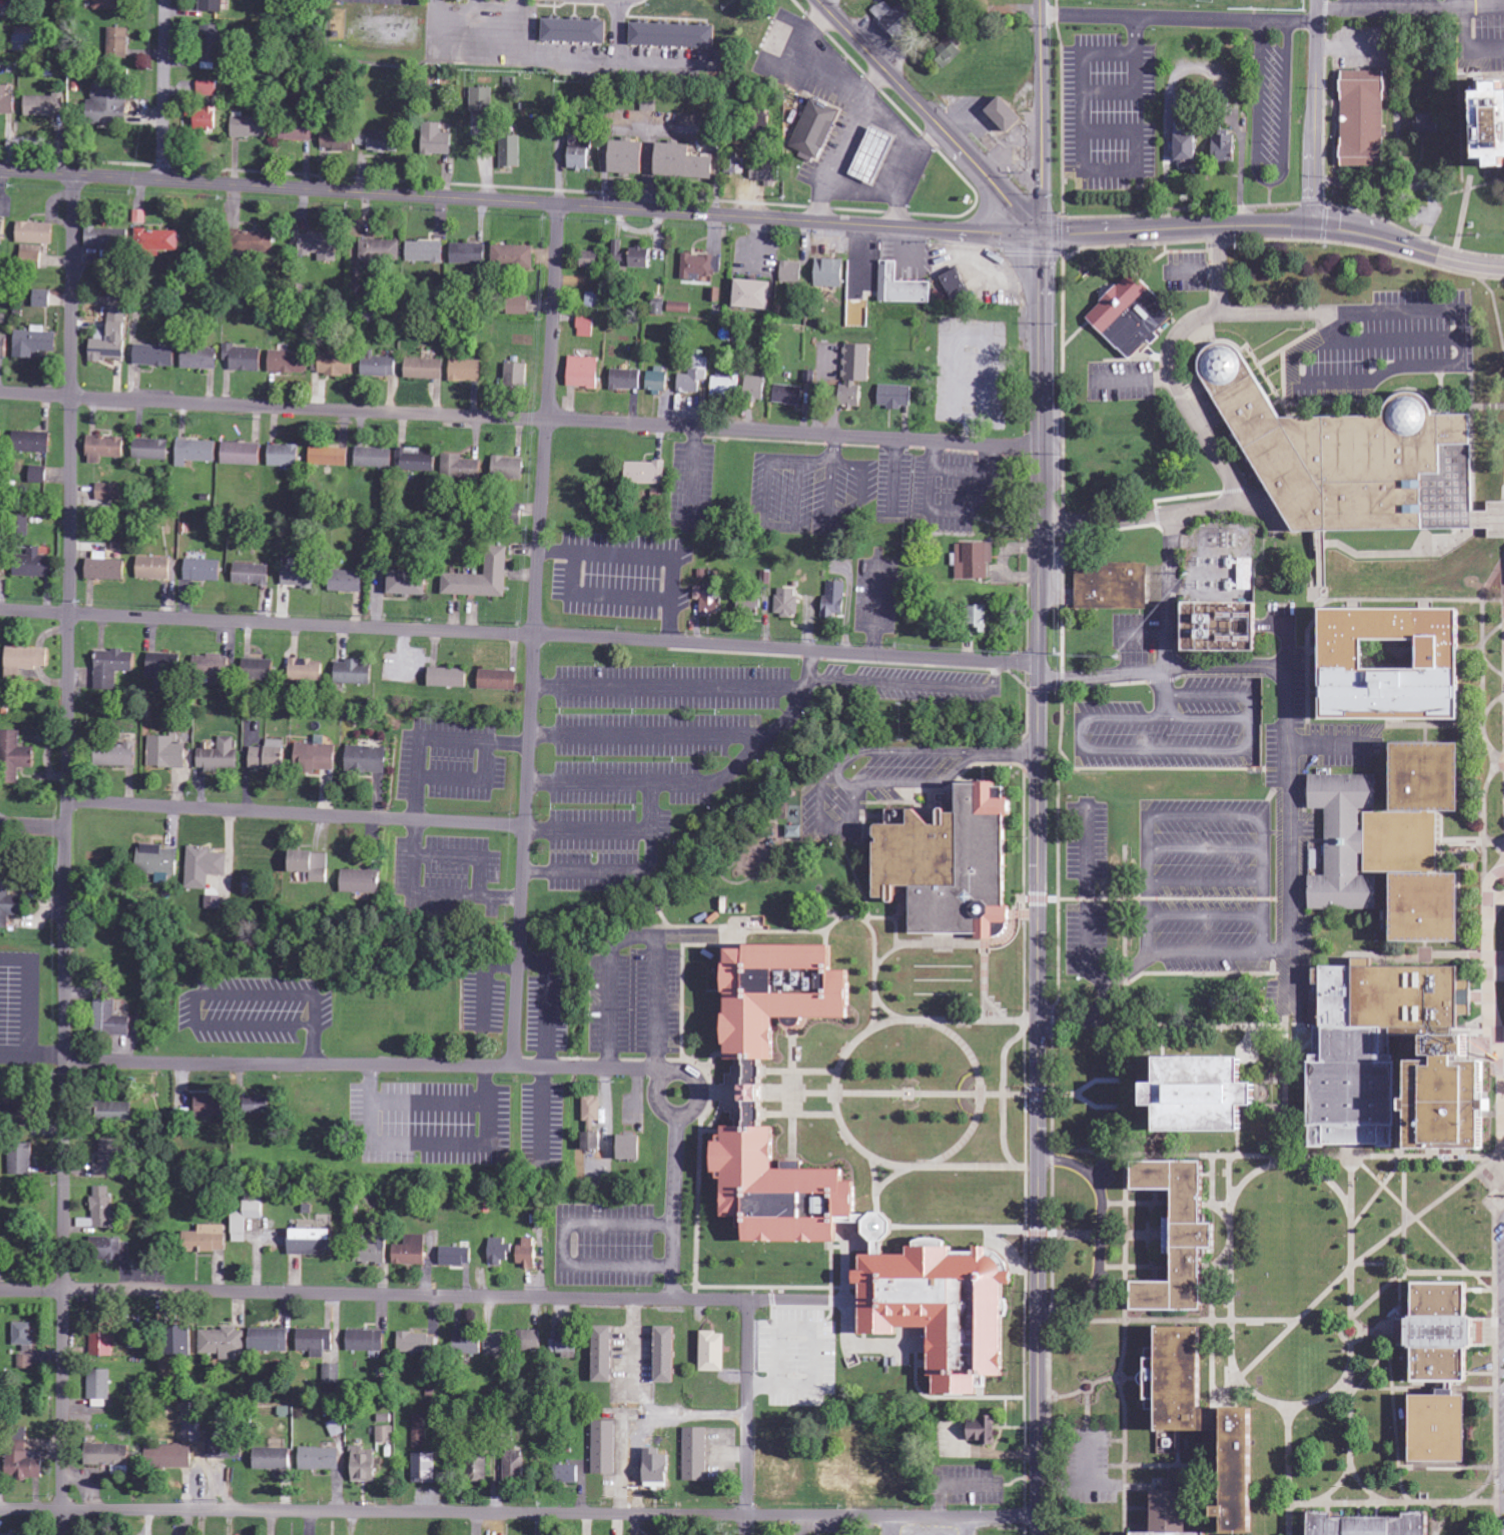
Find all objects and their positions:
park: (1279, 1)
building: (111, 5)
building: (212, 6)
road: (1409, 10)
building: (895, 18)
road: (1177, 18)
building: (576, 32)
building: (675, 36)
building: (23, 38)
building: (121, 43)
building: (212, 45)
road: (1457, 49)
building: (950, 50)
building: (207, 89)
road: (163, 91)
building: (482, 101)
building: (6, 102)
building: (45, 106)
building: (109, 106)
building: (1182, 110)
building: (1007, 113)
road: (1312, 114)
road: (928, 116)
road: (1039, 116)
building: (207, 119)
building: (1365, 119)
building: (1430, 123)
building: (1490, 124)
building: (250, 127)
building: (816, 129)
building: (297, 132)
building: (344, 141)
building: (384, 141)
building: (435, 141)
building: (1225, 146)
building: (1189, 150)
building: (511, 152)
building: (580, 152)
building: (874, 155)
building: (629, 157)
building: (684, 162)
building: (738, 165)
building: (766, 173)
road: (519, 202)
road: (1273, 227)
building: (34, 231)
building: (2, 232)
traffic signals: (1038, 233)
building: (108, 239)
building: (158, 240)
building: (257, 242)
building: (320, 246)
building: (380, 251)
building: (425, 252)
building: (32, 254)
building: (469, 254)
building: (632, 256)
building: (514, 257)
building: (590, 259)
building: (700, 267)
building: (791, 272)
building: (830, 273)
building: (957, 285)
building: (902, 287)
building: (755, 294)
building: (43, 298)
building: (593, 300)
building: (518, 304)
building: (680, 308)
building: (1134, 315)
building: (585, 326)
building: (112, 337)
building: (4, 347)
building: (24, 347)
building: (156, 355)
building: (201, 358)
building: (244, 358)
building: (289, 362)
building: (337, 364)
building: (379, 366)
building: (425, 369)
building: (466, 371)
building: (584, 372)
building: (856, 374)
building: (516, 375)
building: (694, 376)
building: (626, 379)
building: (658, 380)
building: (725, 384)
building: (754, 388)
building: (789, 395)
building: (895, 396)
road: (520, 417)
building: (1, 442)
building: (33, 442)
building: (110, 446)
building: (153, 449)
building: (196, 452)
building: (235, 452)
building: (285, 455)
building: (330, 457)
building: (374, 457)
building: (1355, 457)
building: (416, 460)
building: (460, 468)
building: (509, 468)
building: (647, 473)
building: (39, 475)
building: (109, 492)
building: (1, 557)
building: (973, 560)
power substation: (1225, 561)
building: (35, 564)
building: (157, 568)
building: (107, 569)
building: (204, 570)
building: (253, 574)
building: (299, 574)
building: (1243, 575)
building: (482, 578)
building: (346, 581)
building: (409, 583)
building: (1114, 586)
building: (698, 593)
building: (838, 599)
building: (787, 602)
building: (712, 603)
building: (751, 607)
building: (981, 619)
building: (1224, 628)
road: (518, 633)
road: (534, 635)
building: (25, 661)
building: (1400, 664)
building: (213, 666)
building: (113, 667)
building: (165, 669)
building: (259, 670)
building: (307, 670)
building: (351, 671)
building: (449, 678)
building: (499, 680)
building: (167, 752)
building: (116, 755)
building: (220, 756)
building: (270, 756)
building: (15, 757)
building: (316, 757)
building: (367, 760)
road: (296, 812)
road: (33, 827)
building: (794, 832)
building: (1399, 841)
road: (67, 855)
building: (159, 862)
building: (953, 864)
building: (312, 865)
building: (204, 867)
building: (361, 882)
road: (1035, 883)
road: (1031, 896)
road: (1155, 896)
road: (1021, 897)
building: (7, 905)
road: (1488, 1010)
building: (111, 1020)
road: (962, 1020)
road: (1018, 1031)
road: (1021, 1031)
road: (1373, 1040)
park: (1388, 1044)
road: (371, 1065)
road: (799, 1069)
road: (1097, 1080)
road: (787, 1090)
road: (800, 1092)
road: (906, 1092)
road: (1000, 1092)
road: (656, 1093)
building: (1222, 1097)
road: (999, 1101)
road: (1031, 1105)
building: (209, 1106)
building: (258, 1106)
building: (15, 1109)
building: (116, 1111)
building: (592, 1112)
road: (800, 1112)
building: (1420, 1135)
road: (1053, 1136)
building: (592, 1142)
building: (633, 1150)
road: (865, 1153)
road: (1300, 1153)
building: (111, 1159)
building: (21, 1160)
road: (975, 1161)
road: (1295, 1164)
building: (847, 1182)
road: (1120, 1186)
road: (1377, 1188)
road: (675, 1206)
road: (1425, 1208)
building: (101, 1210)
road: (1405, 1213)
building: (245, 1218)
road: (1423, 1223)
road: (1230, 1235)
building: (1188, 1238)
building: (206, 1240)
building: (312, 1242)
road: (561, 1242)
building: (107, 1249)
building: (410, 1252)
building: (499, 1252)
building: (372, 1253)
building: (526, 1254)
building: (456, 1256)
road: (1378, 1264)
road: (519, 1295)
road: (1378, 1295)
road: (1352, 1310)
road: (1210, 1318)
road: (1296, 1321)
road: (1370, 1331)
building: (1450, 1334)
building: (25, 1336)
building: (103, 1338)
building: (269, 1340)
building: (311, 1341)
building: (366, 1341)
building: (529, 1341)
road: (1055, 1341)
building: (223, 1343)
building: (417, 1344)
building: (467, 1345)
road: (1496, 1346)
building: (496, 1347)
road: (1233, 1350)
building: (714, 1352)
building: (605, 1355)
building: (667, 1356)
building: (25, 1362)
road: (1370, 1372)
road: (1392, 1386)
road: (1423, 1388)
building: (100, 1389)
road: (1325, 1396)
road: (1260, 1397)
road: (744, 1417)
building: (1216, 1420)
building: (192, 1423)
building: (1447, 1429)
building: (981, 1431)
building: (421, 1432)
building: (385, 1435)
road: (1125, 1439)
building: (225, 1447)
building: (604, 1448)
road: (1290, 1453)
building: (108, 1455)
building: (696, 1455)
building: (169, 1457)
building: (273, 1459)
building: (320, 1459)
building: (26, 1465)
building: (364, 1465)
building: (424, 1469)
building: (513, 1469)
building: (478, 1470)
building: (658, 1470)
building: (566, 1474)
road: (1365, 1485)
road: (1337, 1486)
road: (1393, 1501)
building: (1176, 1514)
road: (519, 1515)
road: (1292, 1518)
road: (1434, 1518)
building: (1377, 1526)
building: (11, 1534)

